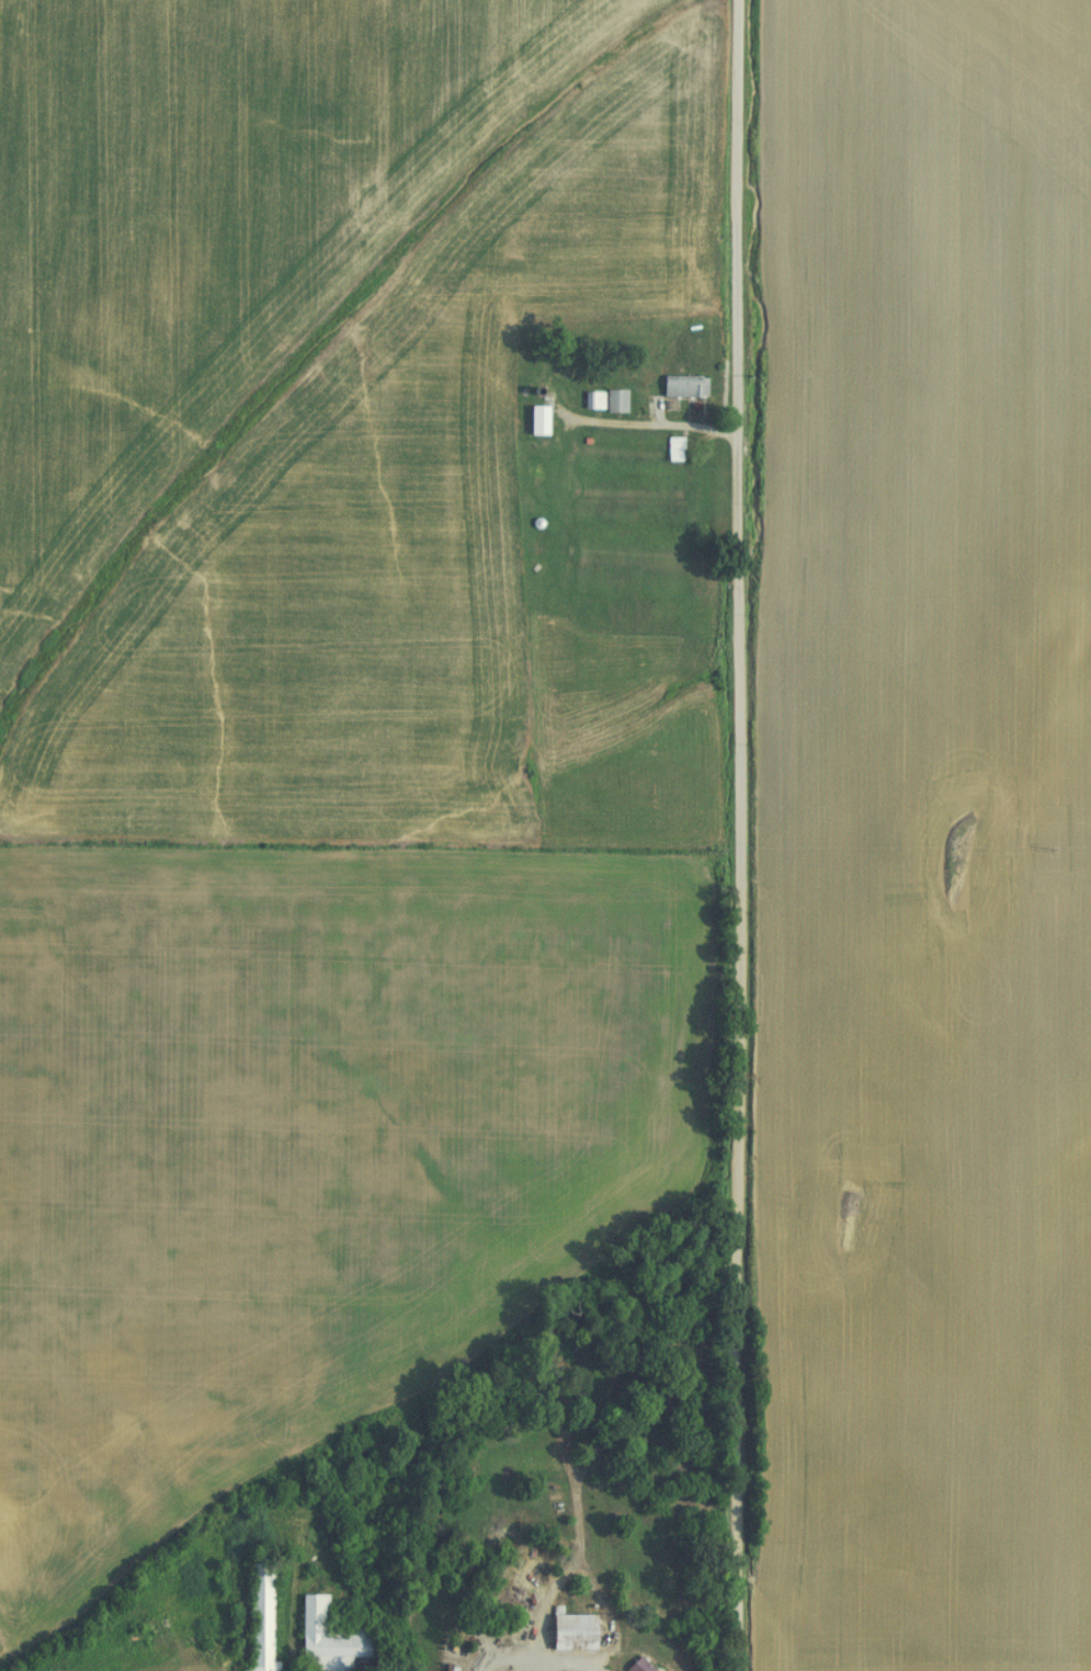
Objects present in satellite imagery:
building: (678, 386)
building: (610, 400)
building: (532, 420)
road: (649, 424)
building: (669, 448)
road: (738, 834)
building: (255, 1619)
building: (565, 1632)
building: (327, 1640)
road: (543, 1660)
building: (633, 1666)

